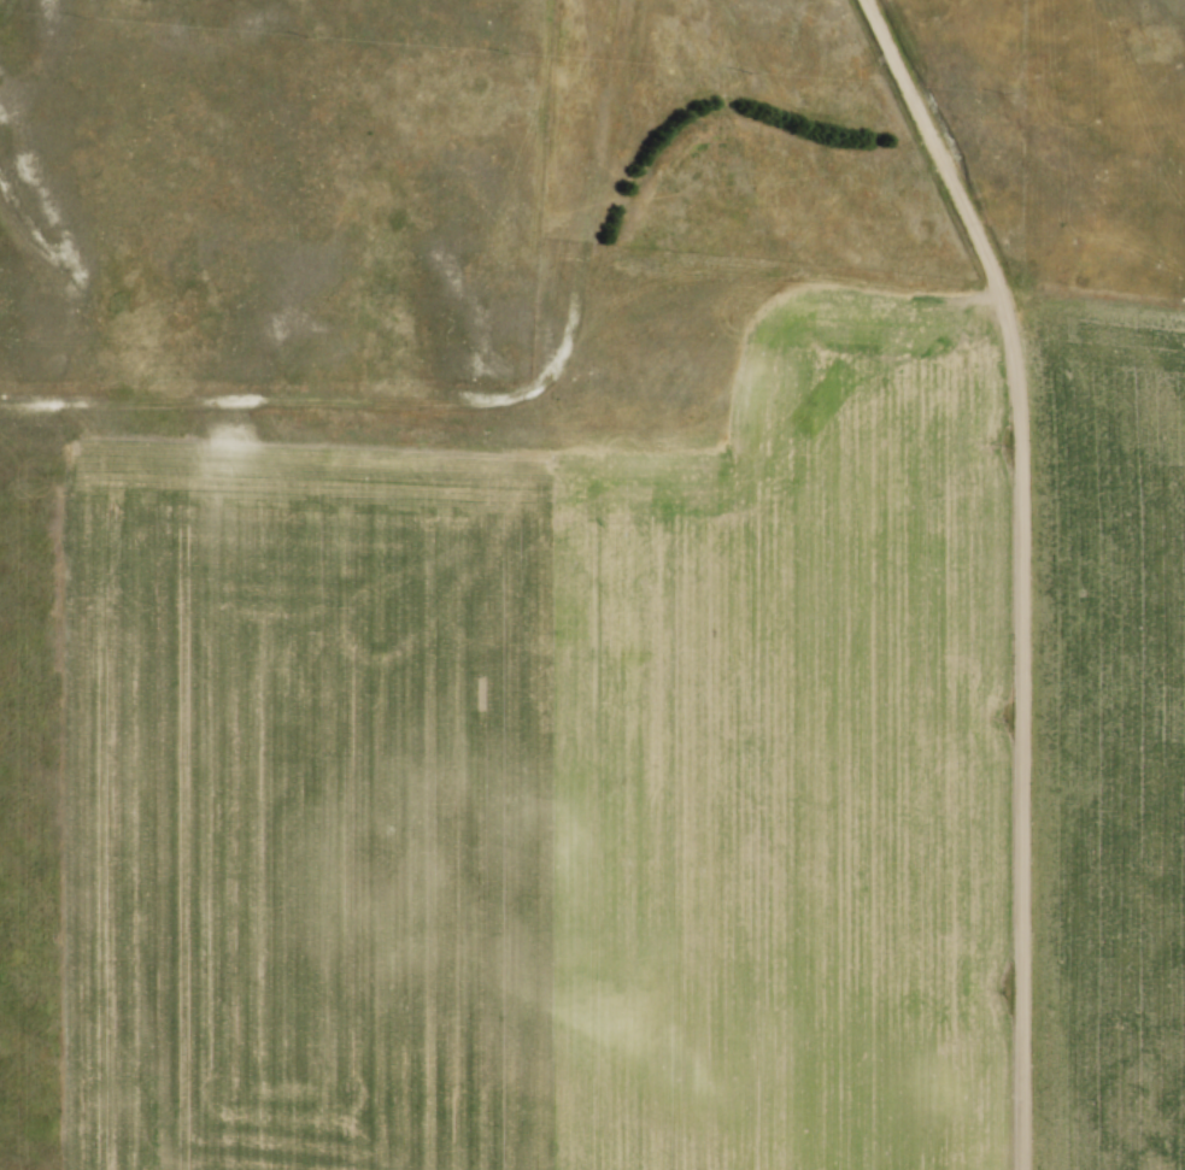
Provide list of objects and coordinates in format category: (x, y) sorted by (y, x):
road: (1021, 569)

